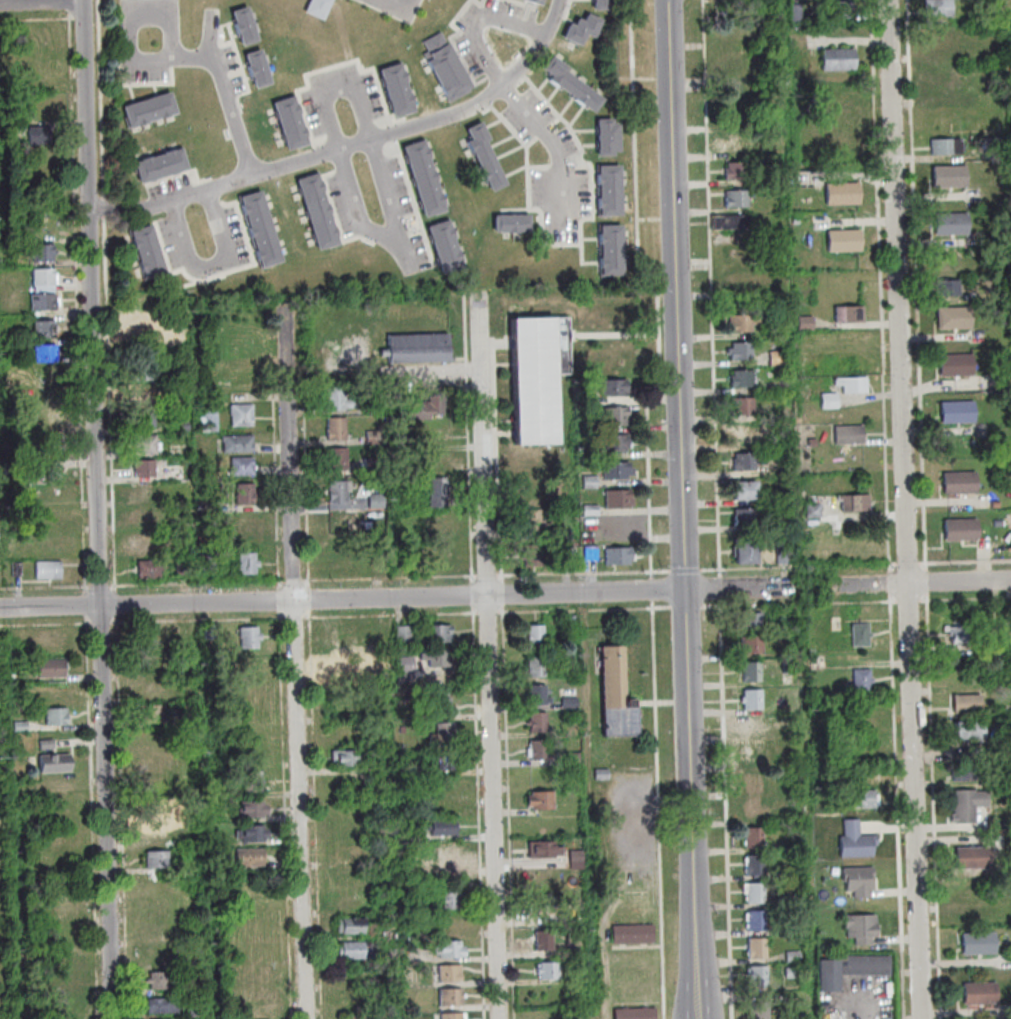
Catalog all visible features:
road: (42, 1)
building: (537, 2)
road: (71, 4)
building: (603, 6)
building: (843, 10)
building: (940, 10)
building: (798, 15)
road: (35, 19)
road: (476, 20)
building: (732, 25)
building: (246, 29)
building: (584, 32)
building: (943, 37)
road: (179, 56)
building: (840, 62)
building: (447, 69)
building: (259, 71)
building: (394, 81)
building: (948, 85)
building: (572, 88)
road: (339, 91)
building: (402, 105)
building: (151, 112)
building: (736, 117)
building: (769, 121)
building: (292, 126)
building: (609, 132)
building: (11, 135)
building: (40, 136)
building: (733, 142)
road: (554, 144)
road: (351, 145)
building: (948, 147)
building: (609, 149)
building: (994, 150)
building: (486, 159)
building: (162, 168)
building: (738, 172)
building: (805, 179)
building: (951, 179)
building: (426, 182)
building: (611, 194)
building: (844, 196)
building: (739, 200)
building: (320, 215)
building: (512, 221)
building: (797, 221)
building: (731, 224)
building: (953, 226)
building: (263, 232)
road: (392, 237)
building: (846, 244)
building: (447, 250)
building: (44, 253)
building: (613, 254)
building: (150, 255)
building: (946, 262)
road: (211, 266)
building: (44, 278)
building: (745, 284)
road: (919, 286)
road: (882, 287)
road: (660, 288)
building: (948, 288)
road: (713, 289)
building: (45, 290)
road: (108, 297)
road: (79, 301)
building: (45, 302)
building: (850, 316)
building: (955, 320)
building: (745, 324)
building: (782, 324)
building: (806, 324)
building: (147, 326)
building: (46, 330)
road: (492, 345)
building: (417, 348)
building: (742, 352)
building: (47, 354)
building: (779, 360)
building: (957, 367)
road: (432, 369)
building: (144, 373)
building: (537, 377)
building: (744, 380)
building: (854, 386)
building: (614, 388)
building: (145, 396)
road: (278, 397)
building: (337, 399)
building: (588, 401)
building: (830, 402)
building: (744, 407)
building: (426, 408)
building: (375, 409)
road: (301, 414)
building: (959, 414)
building: (243, 417)
building: (615, 417)
building: (146, 420)
building: (207, 420)
building: (183, 426)
building: (336, 429)
building: (589, 429)
building: (745, 435)
building: (851, 435)
building: (374, 437)
building: (433, 439)
building: (237, 444)
building: (614, 444)
building: (146, 445)
road: (468, 459)
building: (338, 460)
building: (746, 463)
building: (242, 465)
road: (498, 465)
building: (374, 466)
building: (145, 469)
building: (615, 471)
building: (49, 475)
road: (684, 482)
building: (590, 483)
building: (961, 485)
building: (337, 491)
building: (438, 492)
building: (145, 493)
building: (245, 494)
road: (276, 494)
building: (747, 494)
building: (618, 499)
building: (376, 501)
road: (307, 502)
building: (856, 504)
building: (996, 505)
road: (98, 509)
road: (907, 509)
building: (590, 510)
building: (815, 511)
building: (146, 517)
building: (748, 518)
building: (531, 521)
building: (337, 524)
building: (619, 525)
building: (1000, 525)
building: (241, 528)
building: (963, 532)
building: (592, 553)
building: (567, 554)
building: (747, 554)
building: (784, 554)
building: (533, 556)
building: (619, 556)
building: (207, 561)
building: (247, 563)
road: (965, 563)
building: (184, 565)
road: (909, 566)
road: (800, 567)
building: (17, 568)
building: (150, 568)
building: (48, 570)
road: (687, 572)
road: (584, 574)
road: (487, 576)
road: (390, 578)
road: (294, 582)
road: (927, 582)
road: (928, 582)
road: (197, 583)
road: (891, 583)
road: (815, 585)
road: (100, 586)
road: (45, 588)
road: (721, 588)
road: (473, 590)
road: (653, 591)
road: (310, 595)
road: (503, 595)
road: (393, 597)
road: (965, 599)
road: (280, 600)
road: (909, 601)
road: (895, 602)
road: (86, 604)
road: (116, 605)
road: (687, 607)
road: (711, 607)
road: (585, 611)
road: (493, 613)
road: (291, 619)
road: (199, 621)
building: (752, 622)
road: (102, 623)
building: (571, 623)
road: (46, 625)
building: (210, 632)
building: (439, 633)
building: (963, 634)
building: (404, 635)
building: (861, 635)
building: (536, 636)
building: (250, 638)
building: (1007, 641)
building: (752, 645)
road: (490, 655)
building: (437, 659)
road: (297, 662)
building: (788, 666)
building: (51, 667)
building: (536, 667)
building: (344, 670)
building: (405, 670)
building: (751, 673)
building: (860, 682)
building: (538, 696)
building: (616, 697)
building: (753, 700)
building: (570, 703)
building: (967, 703)
building: (187, 708)
building: (440, 708)
building: (150, 714)
building: (56, 717)
building: (188, 719)
building: (538, 723)
building: (20, 726)
building: (753, 727)
building: (971, 729)
building: (402, 730)
building: (443, 734)
building: (861, 738)
building: (46, 743)
building: (539, 752)
building: (752, 753)
building: (344, 758)
building: (446, 759)
building: (572, 759)
building: (54, 762)
building: (414, 771)
building: (964, 772)
building: (602, 774)
building: (1009, 778)
building: (253, 781)
building: (754, 781)
road: (634, 788)
building: (865, 798)
building: (541, 801)
building: (967, 804)
road: (935, 805)
road: (587, 806)
road: (898, 806)
road: (727, 808)
building: (255, 809)
building: (752, 809)
road: (659, 810)
road: (509, 812)
road: (286, 814)
road: (635, 815)
road: (92, 817)
road: (122, 817)
building: (443, 828)
building: (254, 833)
parking lot: (628, 833)
building: (416, 837)
building: (753, 838)
building: (855, 841)
building: (544, 850)
building: (351, 853)
park: (6, 854)
building: (448, 856)
building: (250, 857)
building: (577, 857)
building: (972, 857)
building: (157, 859)
building: (754, 865)
building: (791, 873)
building: (542, 875)
building: (859, 880)
building: (970, 888)
building: (754, 893)
building: (450, 900)
building: (792, 900)
building: (415, 907)
building: (756, 921)
building: (351, 926)
building: (861, 927)
building: (391, 934)
building: (632, 934)
building: (545, 941)
building: (978, 943)
building: (450, 949)
building: (757, 949)
building: (352, 950)
building: (792, 956)
building: (392, 957)
building: (850, 969)
building: (549, 971)
building: (450, 973)
building: (794, 973)
building: (758, 976)
building: (160, 980)
road: (697, 992)
building: (980, 993)
building: (451, 997)
building: (160, 1006)
building: (759, 1010)
building: (196, 1013)
building: (634, 1013)
building: (453, 1016)
building: (796, 1016)
building: (359, 1017)

